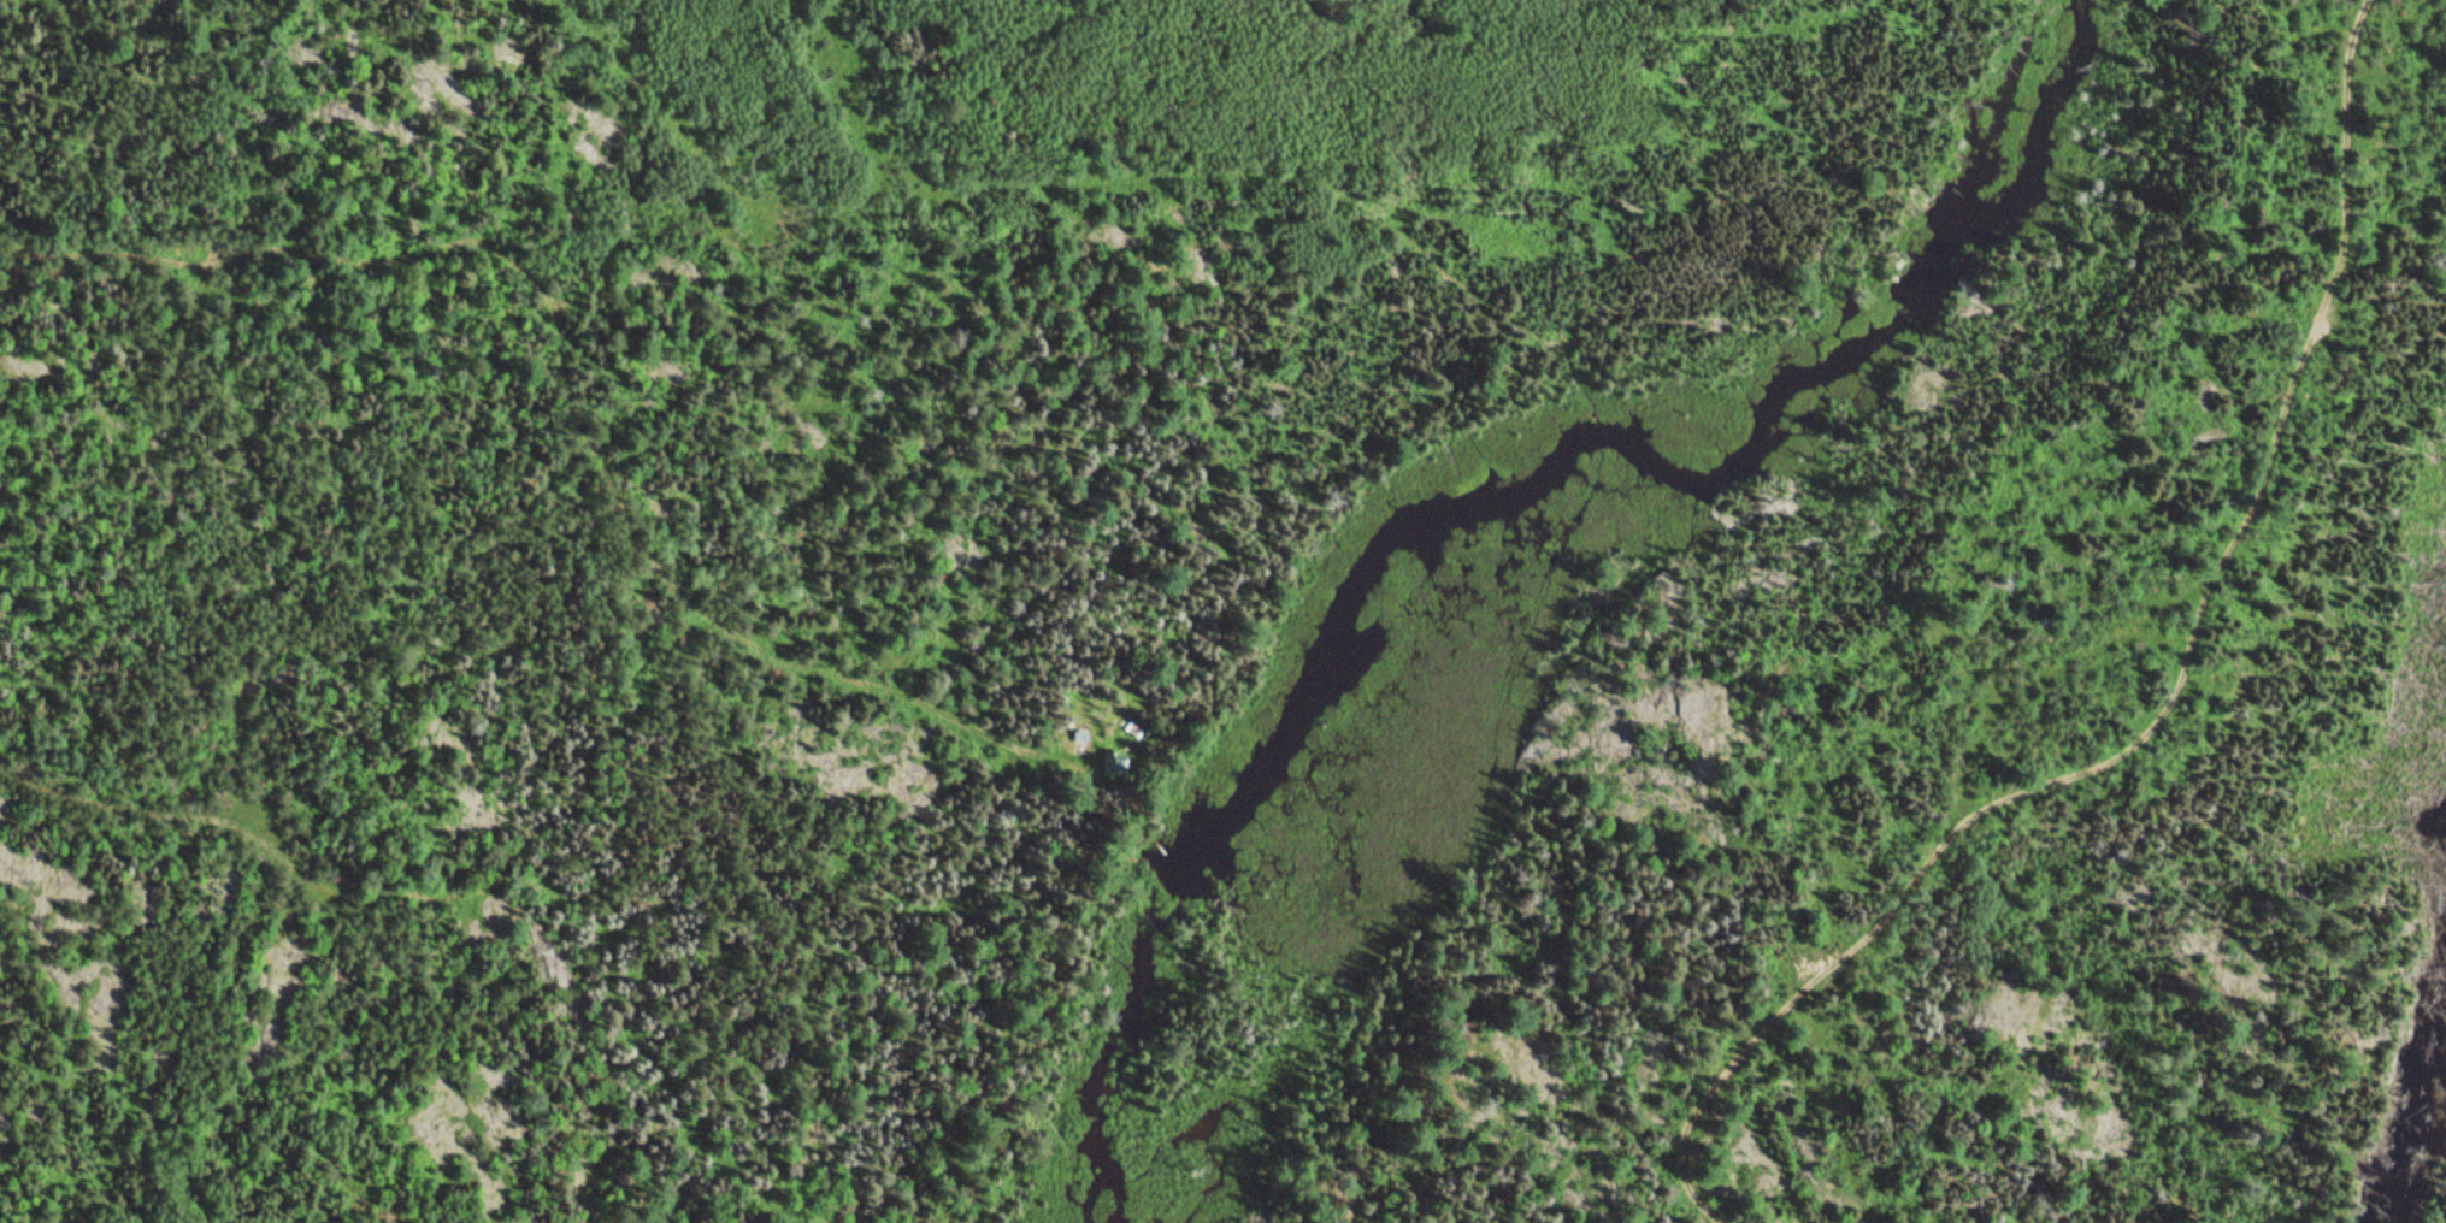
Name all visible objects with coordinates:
road: (699, 616)
road: (2179, 675)
building: (1124, 762)
road: (1664, 1159)

